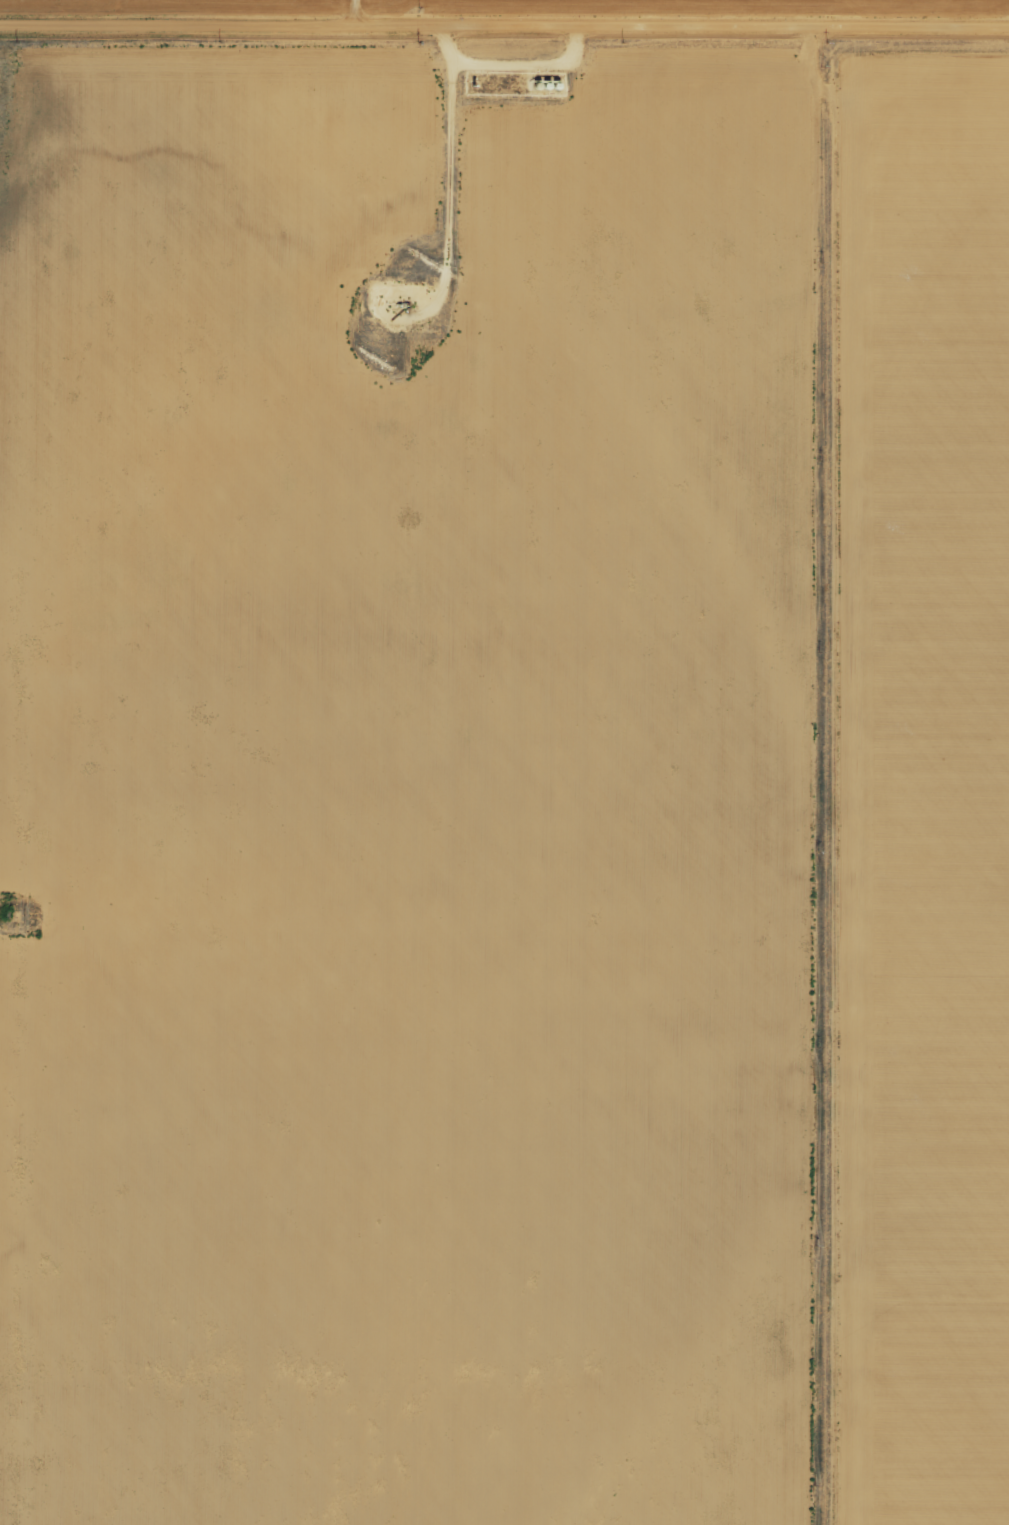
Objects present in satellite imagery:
road: (351, 13)
road: (504, 26)
road: (527, 64)
road: (449, 161)
road: (822, 775)

